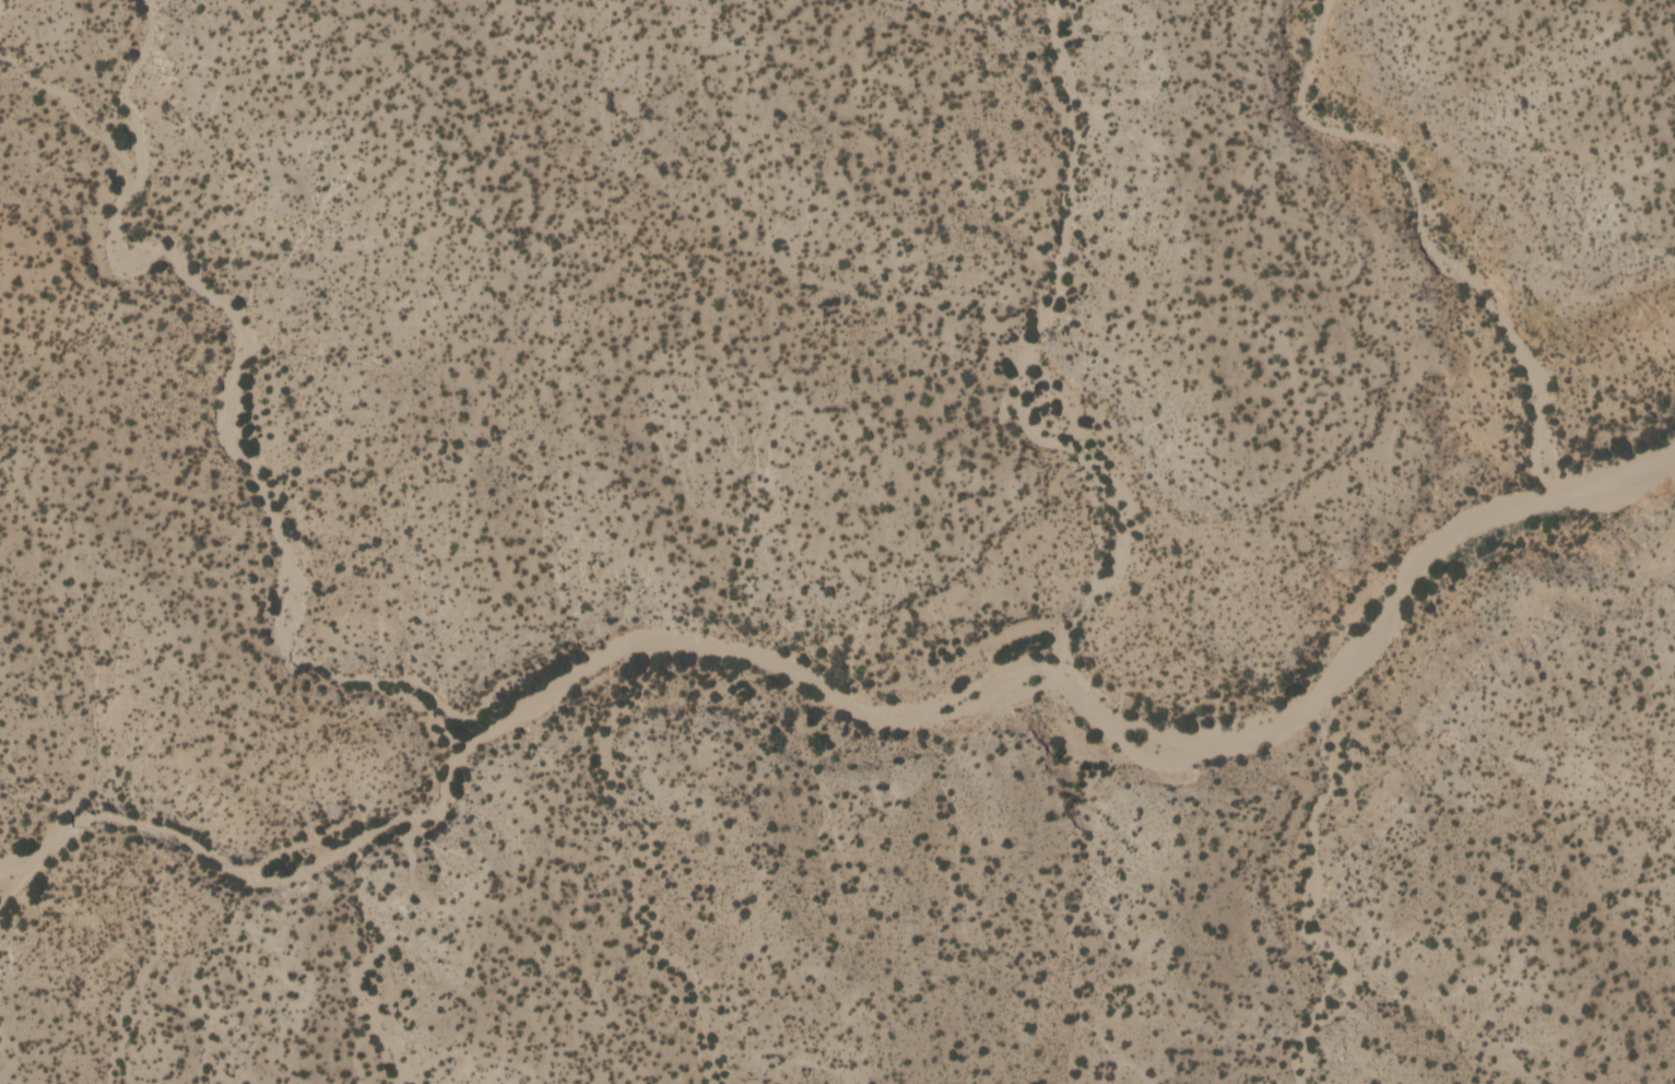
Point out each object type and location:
road: (1603, 192)

